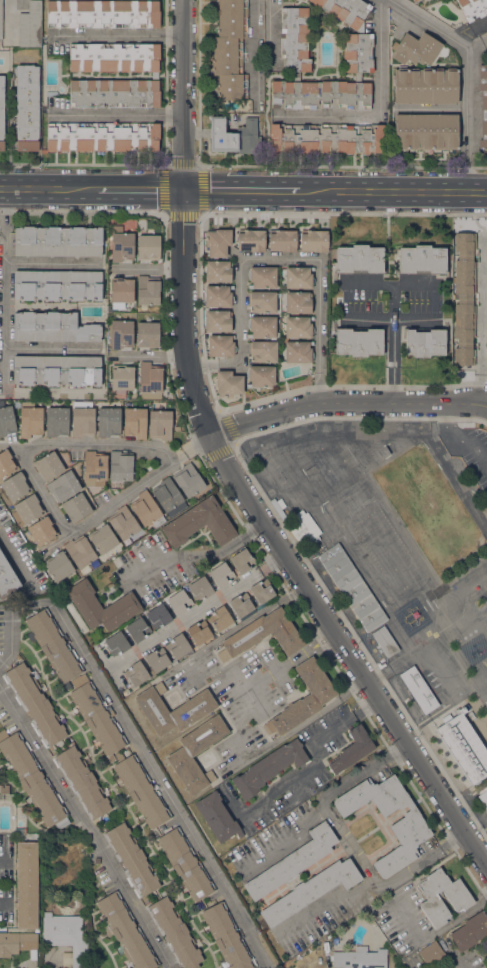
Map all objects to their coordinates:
building: (473, 8)
building: (102, 13)
building: (0, 21)
building: (29, 26)
road: (469, 28)
road: (267, 33)
road: (115, 35)
building: (294, 37)
building: (358, 40)
road: (476, 41)
building: (230, 49)
building: (416, 49)
building: (113, 57)
road: (465, 75)
building: (426, 85)
building: (113, 93)
building: (320, 95)
building: (27, 107)
building: (483, 108)
road: (430, 109)
road: (378, 110)
building: (1, 112)
road: (114, 114)
building: (426, 131)
building: (102, 136)
building: (235, 136)
building: (327, 138)
road: (166, 165)
road: (49, 190)
road: (140, 191)
road: (241, 191)
road: (393, 192)
building: (250, 240)
building: (282, 240)
building: (313, 240)
building: (58, 241)
building: (217, 241)
building: (122, 246)
building: (148, 247)
road: (275, 258)
building: (359, 259)
building: (421, 260)
road: (51, 263)
road: (148, 268)
building: (218, 271)
building: (262, 277)
building: (299, 277)
building: (57, 285)
road: (346, 286)
road: (5, 290)
building: (121, 291)
building: (147, 291)
building: (218, 296)
building: (463, 301)
building: (263, 302)
building: (298, 302)
road: (481, 320)
building: (217, 321)
building: (262, 326)
building: (52, 327)
building: (298, 327)
building: (121, 334)
building: (147, 334)
building: (358, 341)
building: (425, 341)
building: (220, 345)
road: (51, 348)
building: (263, 351)
building: (298, 351)
road: (151, 355)
building: (57, 370)
building: (260, 375)
building: (121, 379)
building: (150, 381)
building: (228, 383)
road: (345, 404)
building: (6, 419)
building: (30, 419)
building: (82, 419)
building: (56, 421)
building: (108, 421)
building: (135, 422)
building: (160, 424)
road: (460, 438)
road: (88, 449)
building: (6, 463)
building: (48, 465)
building: (94, 466)
building: (120, 466)
road: (226, 468)
building: (188, 479)
building: (15, 486)
building: (63, 486)
road: (44, 492)
road: (128, 495)
building: (168, 497)
building: (76, 507)
building: (29, 508)
building: (146, 510)
building: (200, 523)
building: (123, 524)
building: (42, 531)
building: (310, 531)
road: (288, 536)
building: (102, 539)
building: (79, 551)
road: (199, 554)
building: (242, 560)
road: (271, 561)
building: (58, 566)
building: (221, 574)
building: (6, 578)
building: (351, 587)
building: (200, 588)
building: (261, 591)
road: (24, 597)
building: (84, 601)
building: (179, 602)
building: (240, 605)
road: (189, 614)
building: (75, 615)
building: (158, 616)
building: (219, 618)
building: (137, 629)
building: (199, 632)
building: (263, 635)
building: (384, 641)
building: (116, 643)
building: (53, 646)
building: (177, 646)
road: (304, 650)
building: (157, 659)
building: (136, 673)
road: (272, 674)
building: (418, 689)
building: (303, 698)
building: (35, 704)
building: (192, 709)
building: (464, 709)
building: (97, 718)
building: (463, 747)
building: (352, 749)
building: (196, 754)
road: (312, 758)
building: (268, 767)
road: (153, 774)
building: (32, 779)
building: (82, 782)
building: (4, 789)
building: (141, 790)
building: (483, 798)
building: (217, 817)
building: (410, 822)
road: (84, 827)
building: (20, 830)
road: (347, 843)
building: (131, 859)
building: (96, 860)
building: (292, 862)
building: (185, 863)
building: (310, 891)
building: (458, 898)
building: (23, 901)
road: (322, 908)
building: (125, 931)
road: (437, 931)
building: (469, 931)
building: (174, 933)
building: (66, 936)
building: (227, 937)
building: (432, 954)
building: (486, 957)
building: (360, 958)

